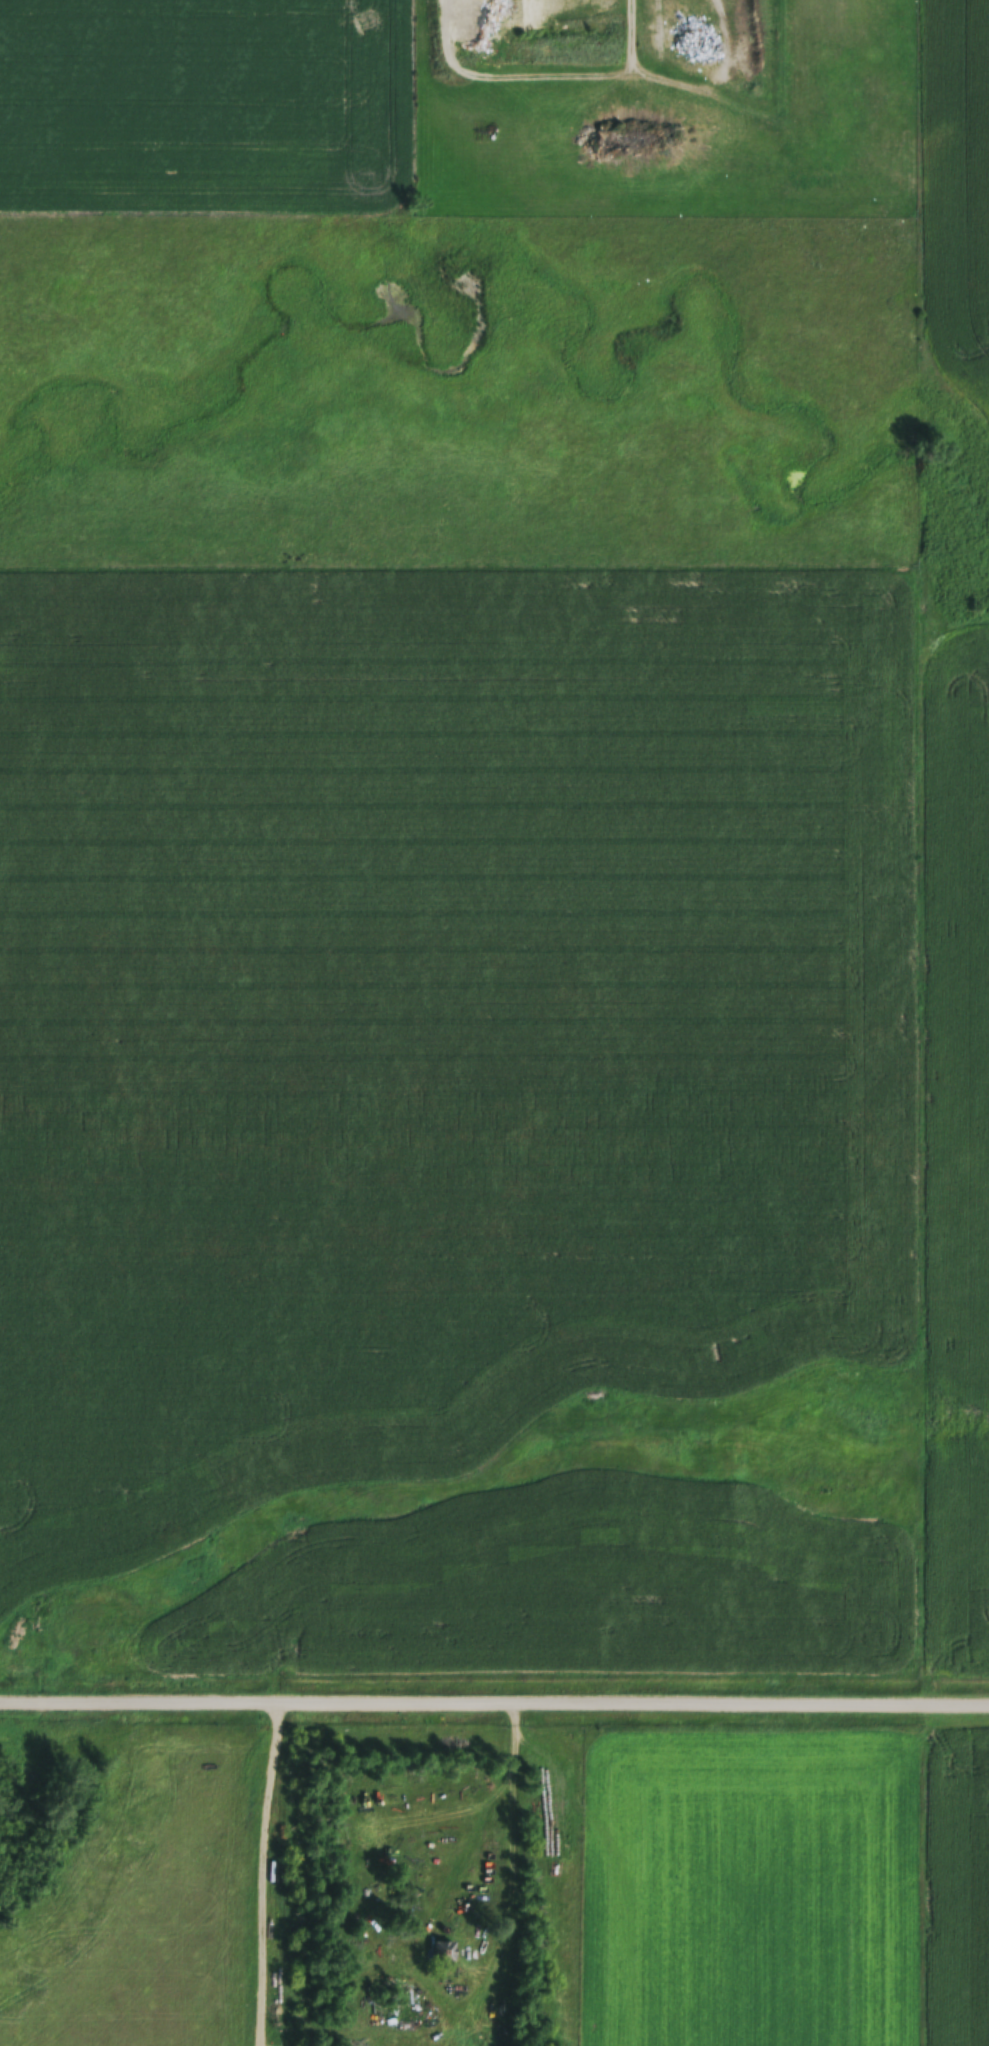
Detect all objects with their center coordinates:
road: (635, 33)
road: (494, 1700)
road: (515, 1873)

